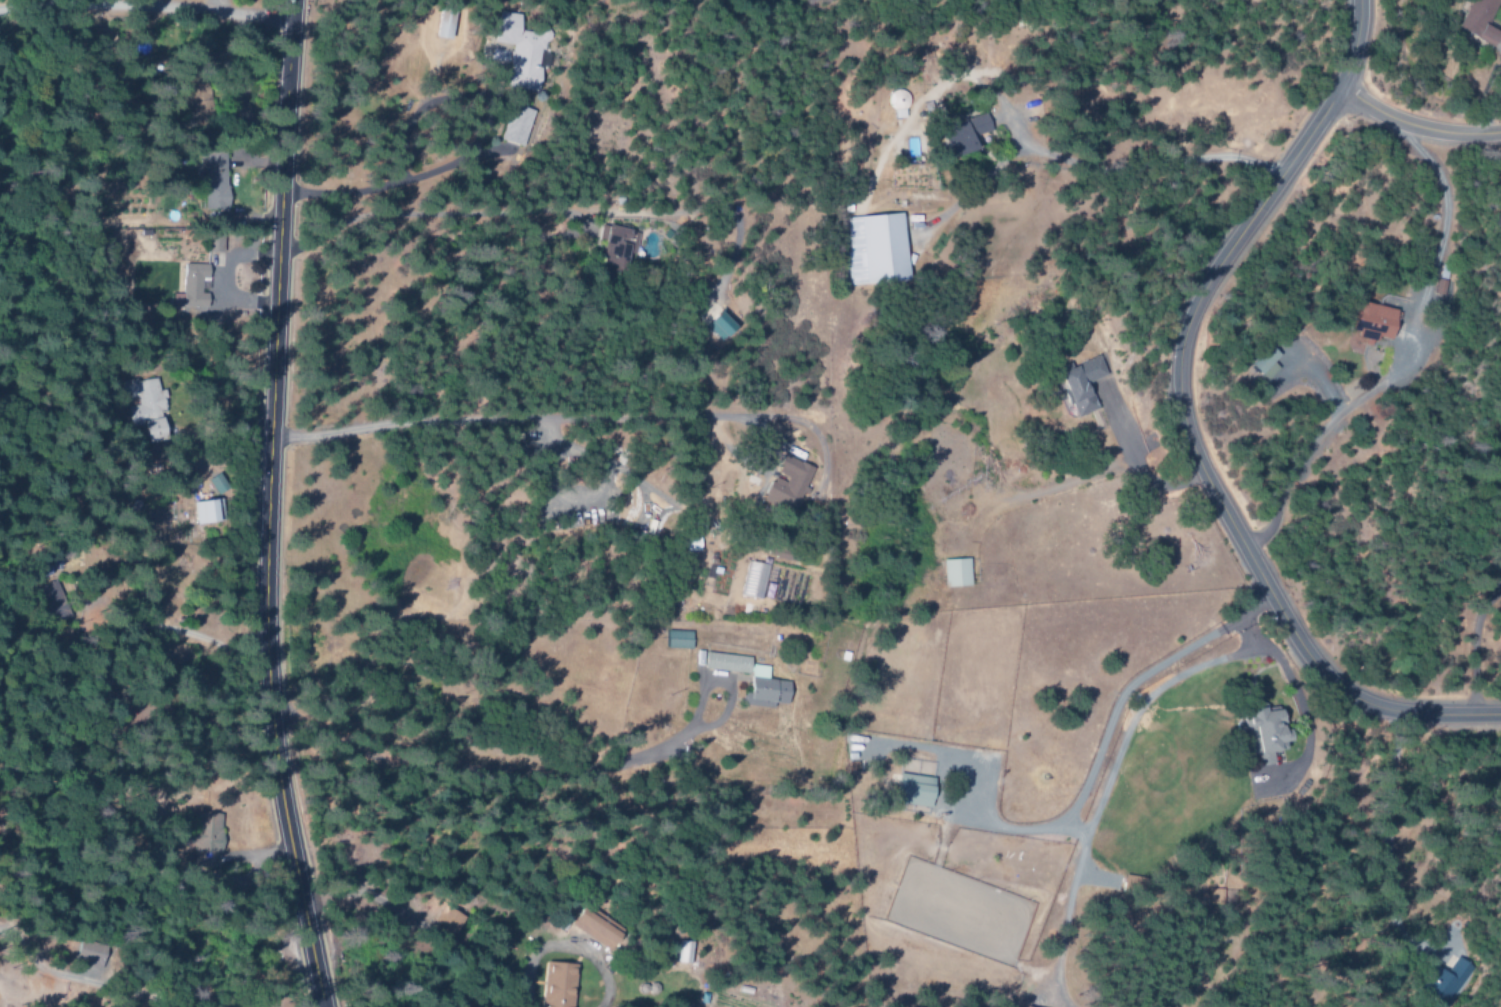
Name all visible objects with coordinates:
road: (144, 4)
building: (1475, 20)
building: (440, 23)
building: (517, 52)
building: (975, 125)
building: (514, 126)
road: (1413, 126)
building: (951, 137)
building: (210, 181)
building: (211, 244)
building: (613, 245)
building: (871, 249)
building: (1437, 288)
building: (196, 291)
building: (717, 324)
building: (1363, 326)
building: (1260, 363)
building: (1075, 385)
building: (141, 405)
road: (1182, 426)
building: (783, 484)
road: (265, 505)
building: (202, 511)
building: (952, 573)
building: (674, 640)
building: (758, 680)
building: (1259, 731)
building: (909, 790)
building: (205, 840)
building: (443, 920)
building: (588, 925)
building: (680, 952)
building: (88, 954)
building: (1439, 982)
building: (553, 985)

